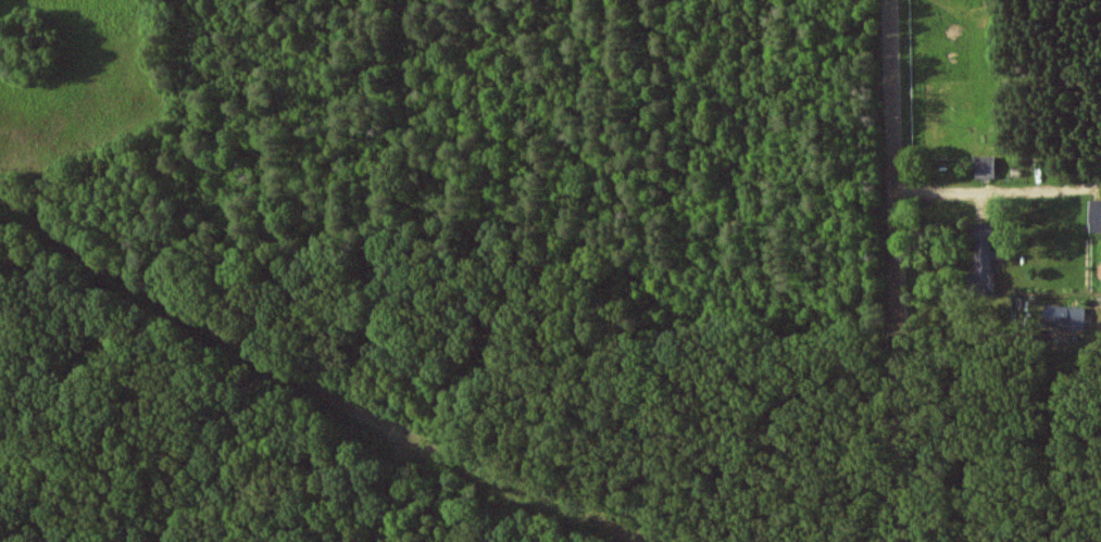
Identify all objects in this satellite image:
building: (984, 168)
road: (997, 190)
building: (1094, 216)
building: (980, 263)
road: (893, 270)
building: (1062, 317)
road: (961, 336)

